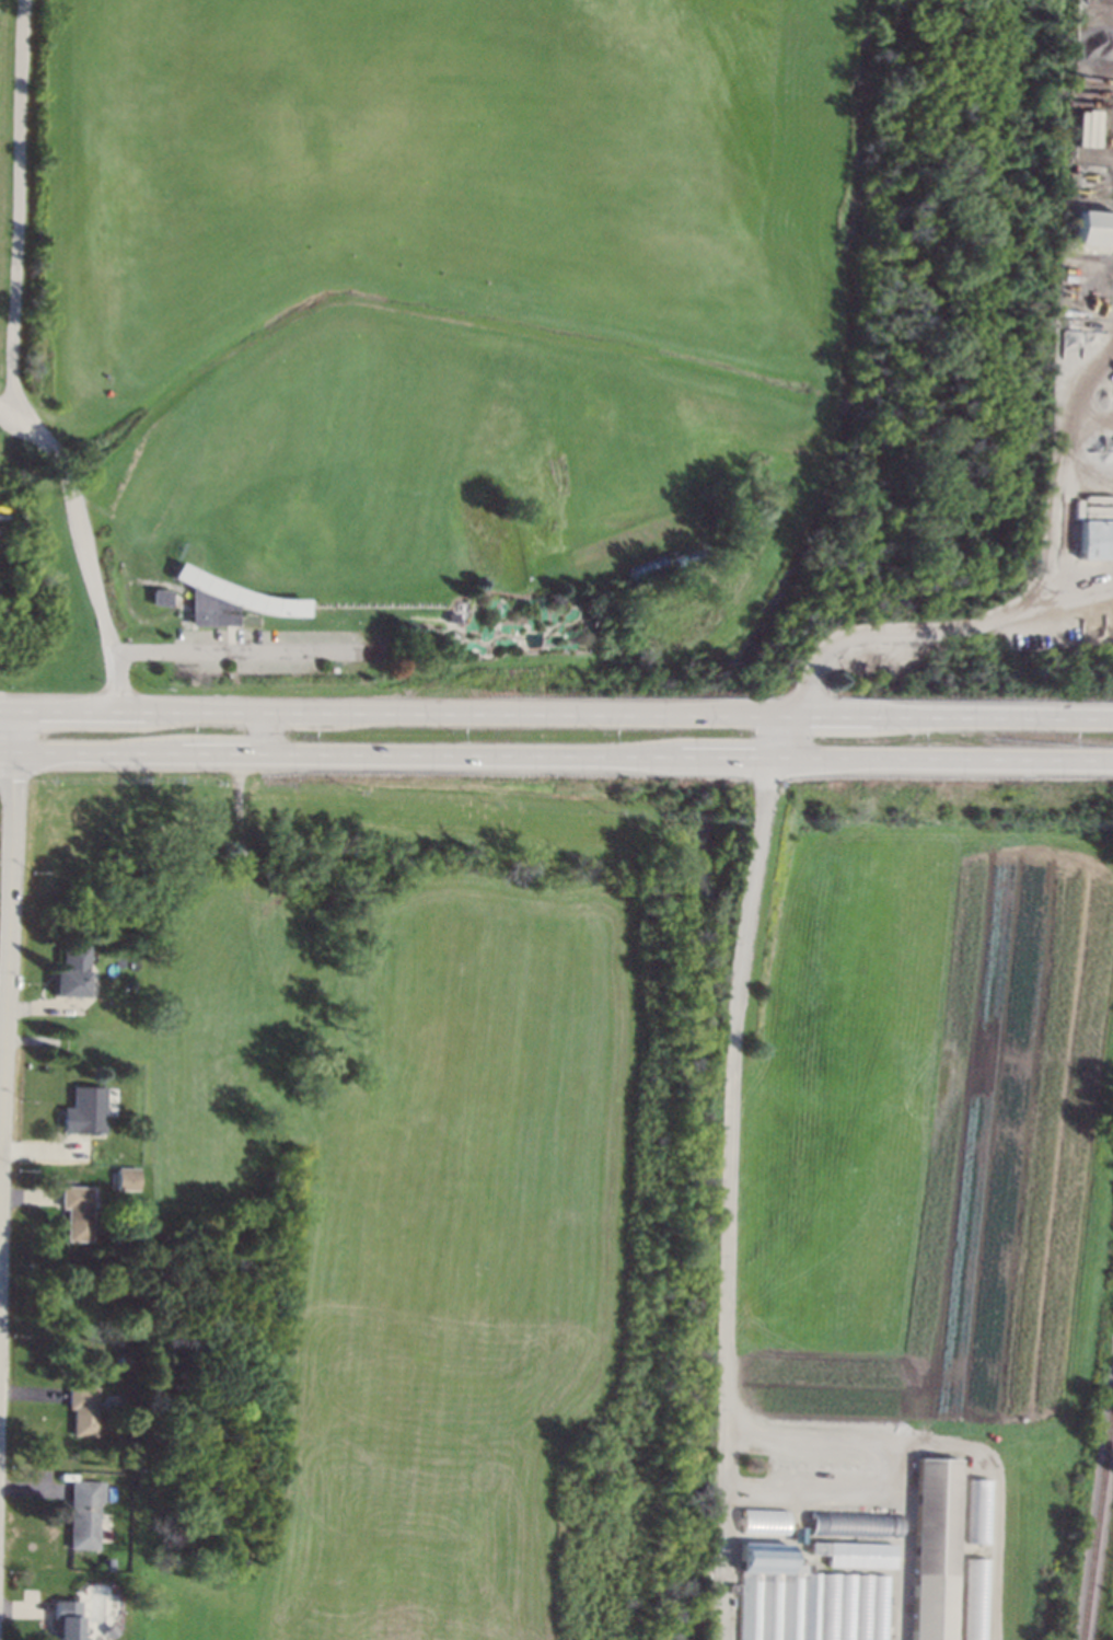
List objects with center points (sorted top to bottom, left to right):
road: (20, 216)
building: (1093, 228)
building: (1097, 538)
road: (83, 547)
building: (159, 597)
building: (228, 600)
road: (1085, 602)
road: (1031, 610)
building: (450, 617)
road: (247, 655)
road: (556, 714)
road: (267, 736)
road: (780, 739)
road: (556, 761)
crop: (1, 845)
road: (5, 961)
building: (70, 971)
building: (79, 1009)
building: (84, 1109)
crop: (580, 1159)
building: (127, 1178)
building: (77, 1211)
road: (724, 1316)
building: (82, 1408)
building: (979, 1511)
building: (83, 1514)
building: (762, 1521)
building: (855, 1523)
railway: (1099, 1532)
building: (936, 1548)
building: (856, 1552)
building: (106, 1563)
building: (732, 1587)
building: (804, 1598)
building: (978, 1598)
building: (66, 1618)

